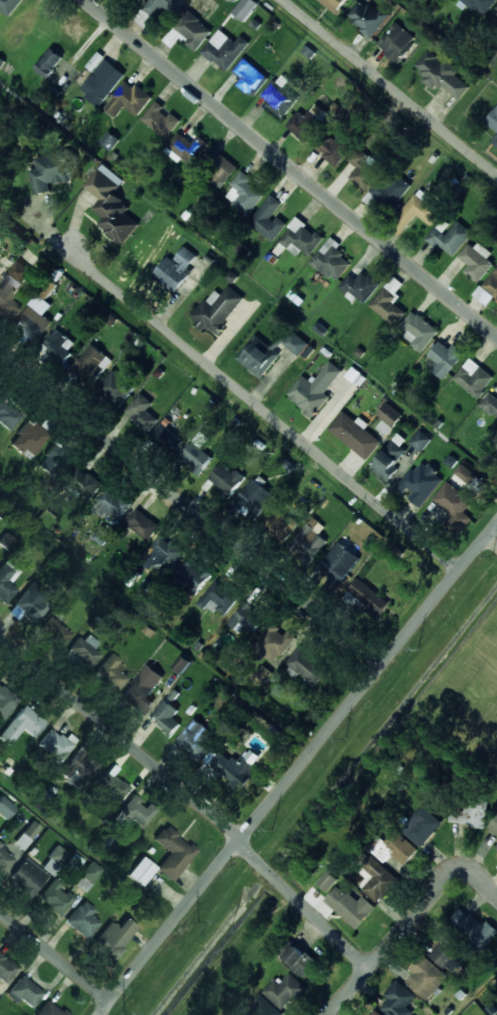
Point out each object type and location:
building: (139, 0)
building: (333, 4)
building: (481, 5)
building: (9, 6)
building: (162, 6)
building: (245, 8)
building: (495, 15)
building: (368, 17)
building: (193, 30)
building: (397, 41)
building: (225, 49)
building: (494, 55)
building: (49, 62)
building: (441, 74)
building: (250, 77)
building: (101, 79)
road: (390, 86)
building: (279, 96)
building: (129, 99)
building: (160, 119)
building: (492, 119)
building: (308, 122)
building: (109, 140)
building: (495, 140)
building: (186, 144)
building: (335, 147)
building: (219, 167)
road: (291, 167)
building: (363, 167)
building: (53, 170)
building: (388, 190)
building: (244, 193)
building: (111, 204)
building: (418, 210)
building: (269, 218)
building: (449, 236)
building: (301, 238)
building: (331, 259)
building: (476, 260)
building: (176, 269)
building: (492, 282)
building: (13, 288)
building: (389, 300)
building: (218, 309)
building: (35, 316)
building: (417, 330)
building: (293, 341)
building: (58, 346)
building: (258, 355)
building: (445, 358)
building: (91, 362)
building: (473, 377)
building: (116, 387)
building: (315, 388)
building: (490, 403)
road: (264, 408)
building: (141, 411)
building: (8, 414)
building: (388, 418)
building: (165, 434)
building: (355, 434)
building: (420, 440)
building: (495, 458)
building: (54, 461)
building: (225, 478)
building: (84, 482)
building: (421, 483)
building: (459, 491)
building: (256, 495)
building: (111, 503)
road: (190, 513)
building: (142, 523)
building: (279, 523)
building: (102, 535)
road: (492, 539)
building: (7, 541)
building: (309, 542)
building: (165, 553)
building: (339, 561)
building: (194, 572)
building: (5, 584)
building: (368, 596)
building: (218, 597)
building: (30, 602)
building: (244, 618)
building: (56, 633)
building: (274, 642)
building: (82, 653)
building: (181, 663)
building: (306, 666)
building: (110, 672)
building: (141, 691)
building: (6, 701)
building: (165, 717)
building: (28, 721)
building: (196, 739)
building: (53, 745)
building: (212, 756)
building: (79, 766)
road: (296, 769)
building: (237, 770)
building: (112, 785)
road: (189, 801)
building: (5, 808)
building: (138, 810)
building: (468, 811)
building: (494, 824)
building: (421, 825)
building: (27, 835)
building: (496, 846)
building: (396, 847)
building: (172, 852)
building: (5, 859)
building: (54, 860)
building: (141, 871)
building: (88, 876)
building: (27, 877)
building: (375, 877)
building: (327, 880)
road: (428, 897)
building: (56, 898)
building: (349, 905)
building: (82, 919)
building: (112, 939)
building: (461, 939)
road: (55, 955)
building: (303, 963)
building: (5, 970)
building: (424, 976)
building: (286, 990)
road: (348, 991)
building: (25, 992)
building: (398, 1000)
building: (262, 1007)
building: (49, 1010)
building: (374, 1012)

